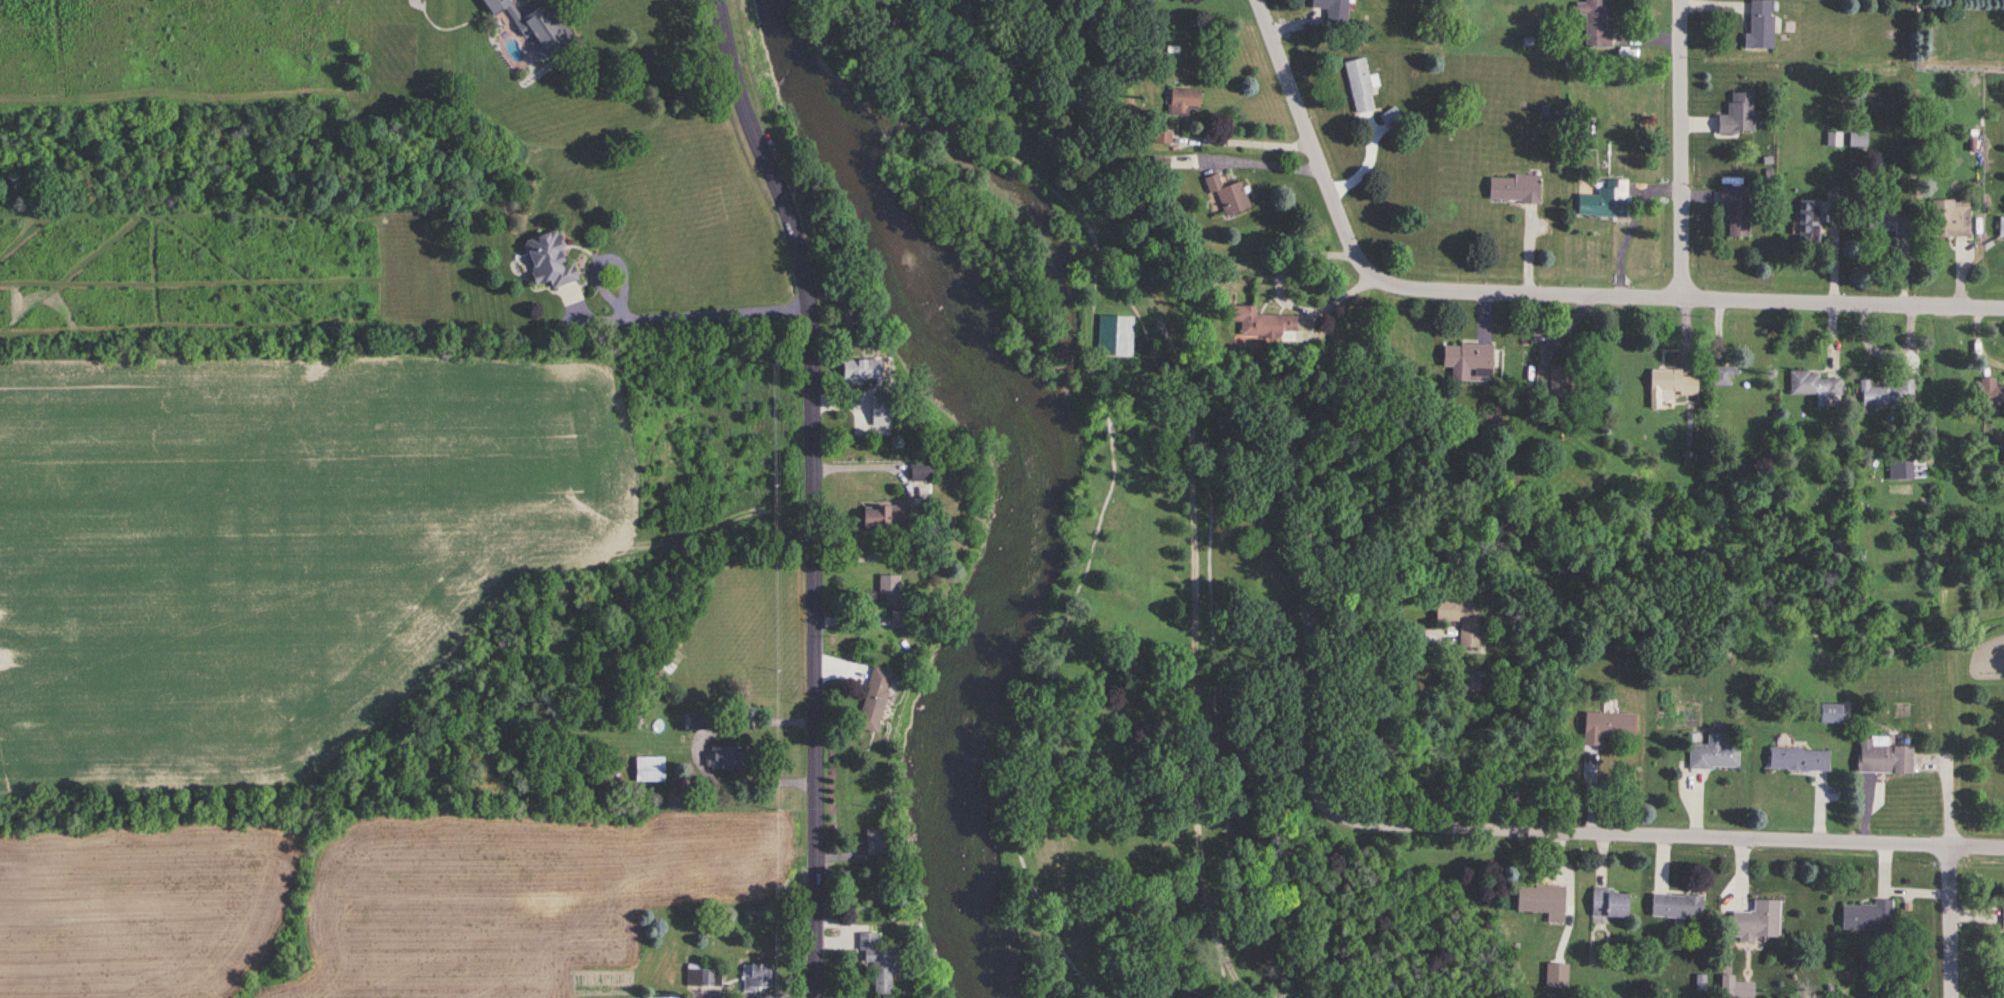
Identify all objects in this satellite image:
building: (1331, 8)
building: (1594, 22)
building: (533, 25)
building: (1760, 25)
building: (1359, 86)
building: (1182, 100)
building: (1737, 115)
building: (1390, 117)
building: (1835, 139)
building: (1859, 139)
road: (1685, 148)
road: (1317, 154)
building: (1513, 189)
building: (1226, 197)
building: (1605, 202)
building: (1736, 211)
road: (1113, 215)
building: (1950, 219)
building: (1809, 221)
river: (1049, 224)
building: (1890, 224)
building: (2001, 228)
building: (546, 260)
road: (1703, 297)
road: (648, 312)
building: (1260, 323)
building: (1115, 336)
building: (1467, 362)
building: (858, 371)
building: (1723, 376)
building: (1550, 379)
building: (1814, 386)
building: (1670, 387)
building: (1887, 395)
building: (1990, 396)
building: (880, 413)
road: (868, 466)
river: (1030, 473)
road: (1114, 482)
road: (812, 492)
building: (882, 517)
road: (1296, 524)
building: (1836, 547)
park: (1104, 575)
building: (886, 590)
building: (1460, 618)
road: (1376, 637)
building: (871, 700)
road: (1220, 706)
building: (1831, 713)
road: (1198, 717)
building: (1606, 727)
road: (692, 752)
building: (1713, 754)
building: (1882, 757)
building: (723, 759)
building: (1798, 760)
building: (648, 770)
road: (1577, 831)
building: (871, 842)
building: (1542, 901)
building: (1611, 905)
building: (1676, 907)
building: (1867, 917)
building: (2003, 919)
building: (1757, 922)
road: (1955, 922)
building: (875, 964)
road: (1222, 976)
building: (697, 977)
building: (754, 979)
road: (757, 995)

